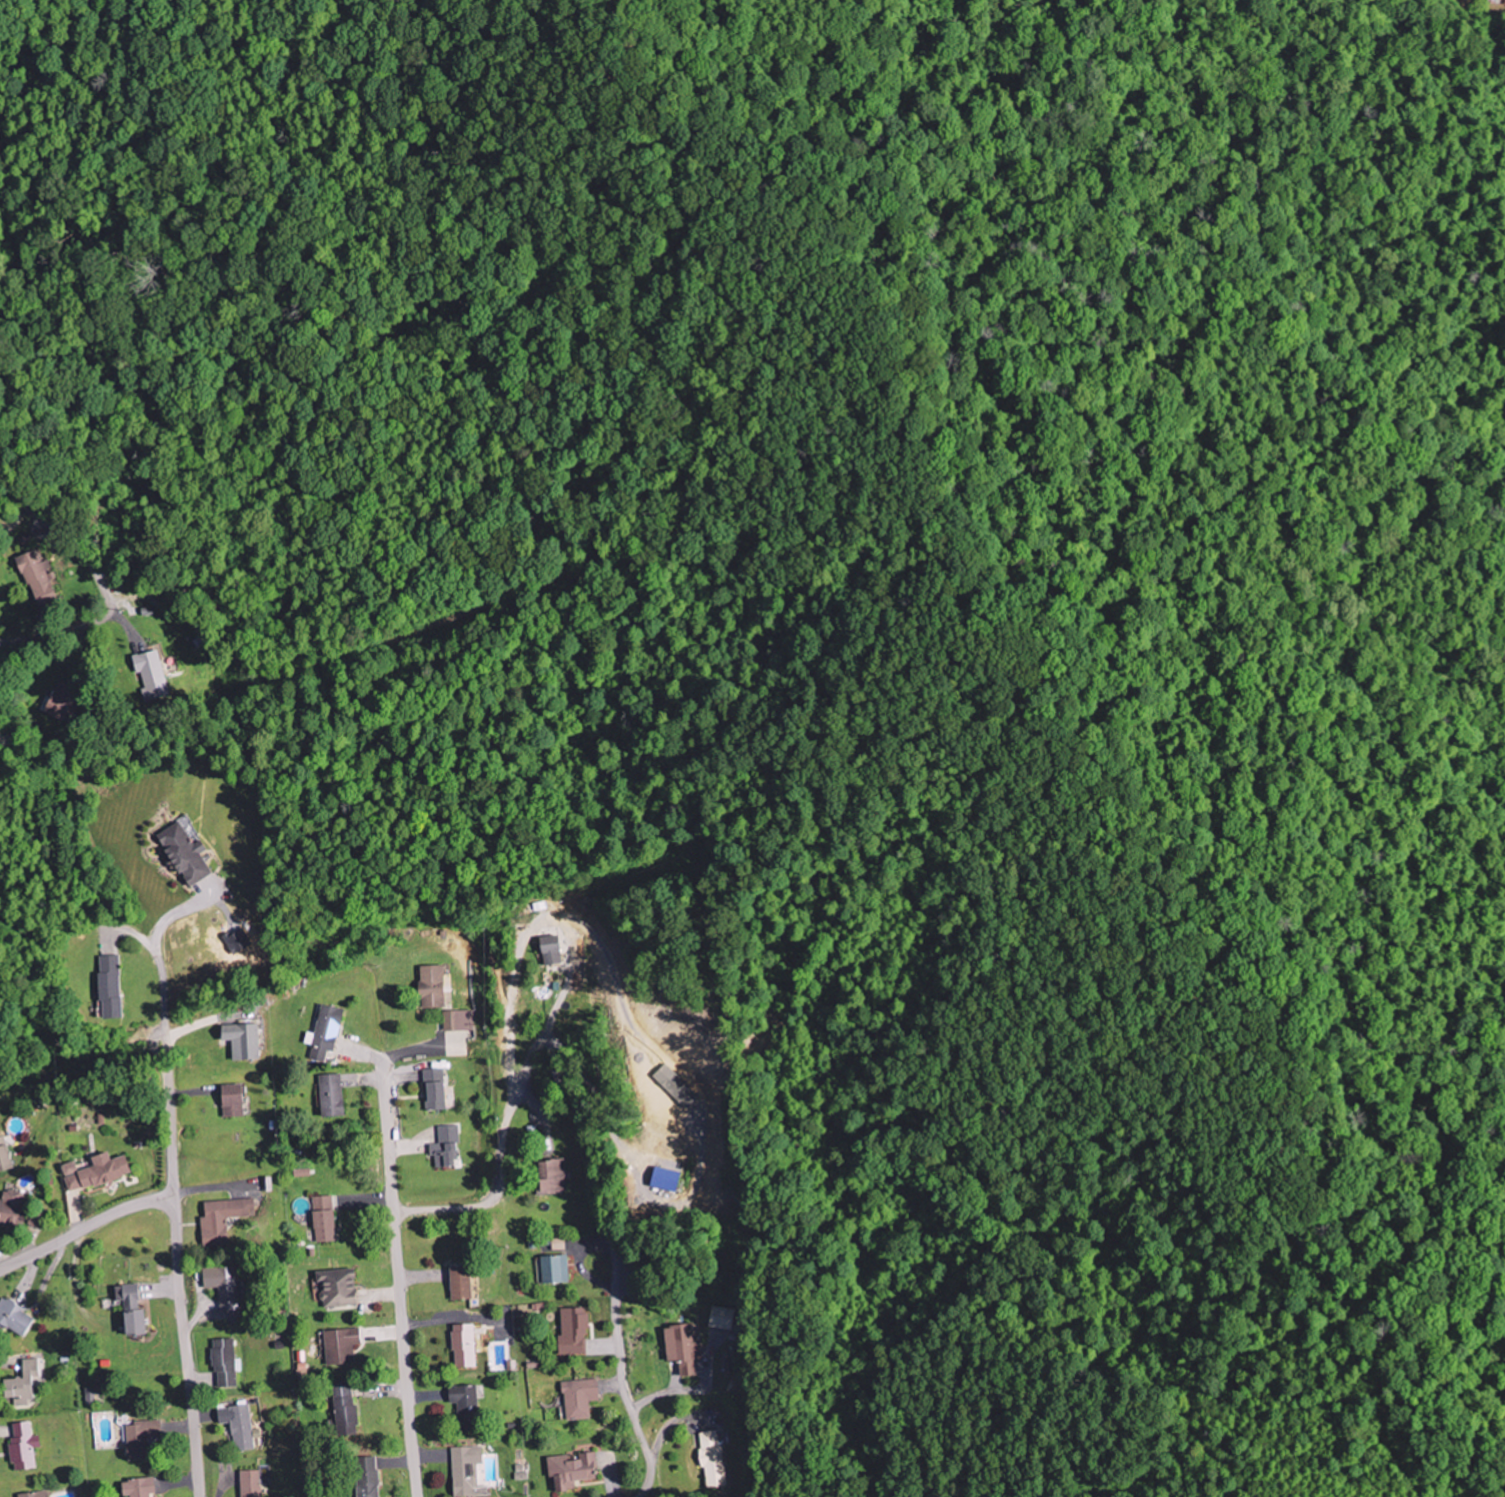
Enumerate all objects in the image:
building: (1503, 2)
building: (34, 576)
road: (102, 586)
road: (123, 619)
building: (151, 675)
building: (56, 708)
building: (235, 942)
building: (548, 950)
building: (107, 987)
building: (429, 987)
road: (635, 993)
building: (457, 1021)
building: (324, 1034)
building: (240, 1041)
building: (432, 1090)
building: (328, 1096)
road: (385, 1096)
building: (230, 1102)
building: (443, 1147)
building: (4, 1156)
building: (94, 1173)
building: (548, 1177)
building: (661, 1180)
building: (10, 1208)
building: (221, 1220)
building: (322, 1220)
road: (85, 1226)
building: (557, 1244)
road: (177, 1252)
building: (553, 1270)
building: (457, 1284)
building: (221, 1286)
building: (336, 1288)
building: (128, 1310)
building: (721, 1318)
building: (14, 1320)
building: (571, 1333)
building: (339, 1346)
building: (461, 1346)
building: (680, 1349)
building: (223, 1364)
building: (24, 1382)
building: (88, 1395)
building: (461, 1399)
building: (577, 1399)
road: (627, 1403)
building: (342, 1413)
building: (238, 1427)
building: (138, 1439)
building: (21, 1447)
building: (710, 1459)
road: (1400, 1460)
building: (569, 1471)
building: (465, 1472)
building: (365, 1476)
building: (249, 1484)
building: (136, 1488)
building: (31, 1495)

